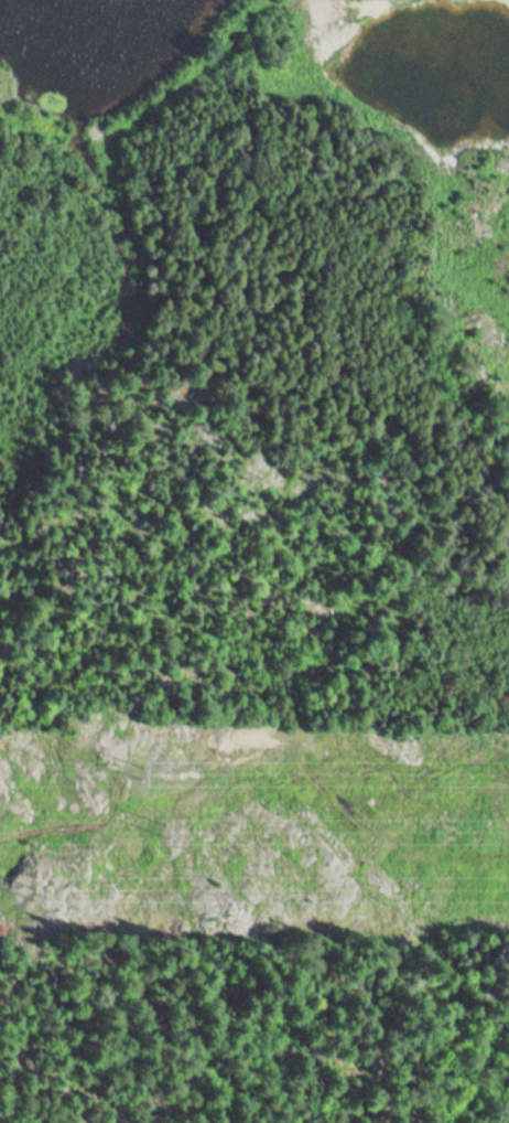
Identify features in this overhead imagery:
power tower: (147, 770)
power tower: (174, 827)
power tower: (30, 891)

